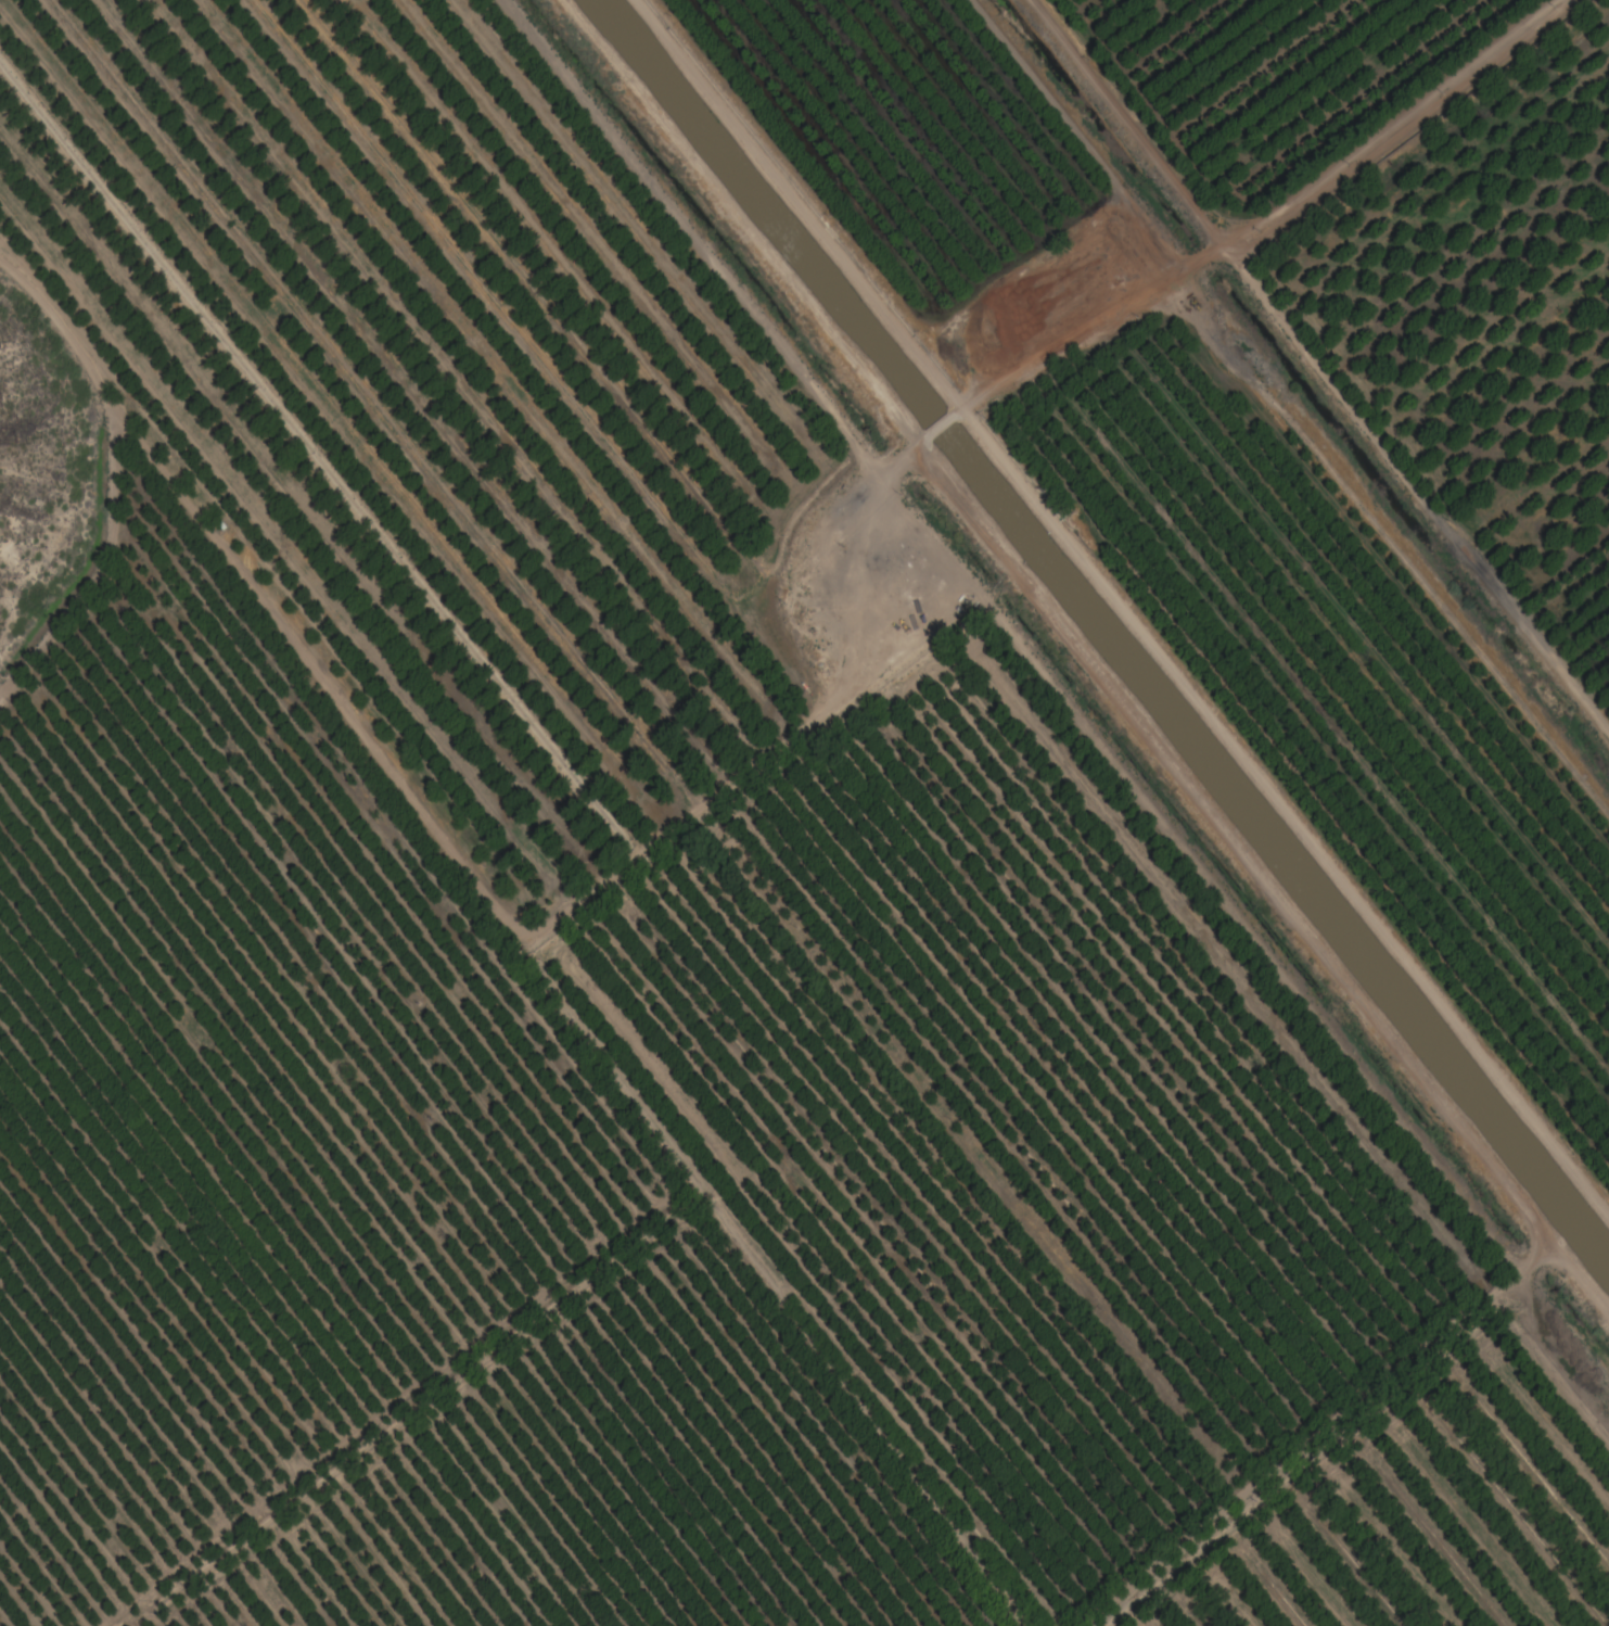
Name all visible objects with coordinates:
road: (1267, 221)
road: (738, 227)
road: (697, 249)
road: (938, 429)
road: (857, 548)
road: (1122, 607)
road: (1419, 1072)
road: (1568, 1263)

